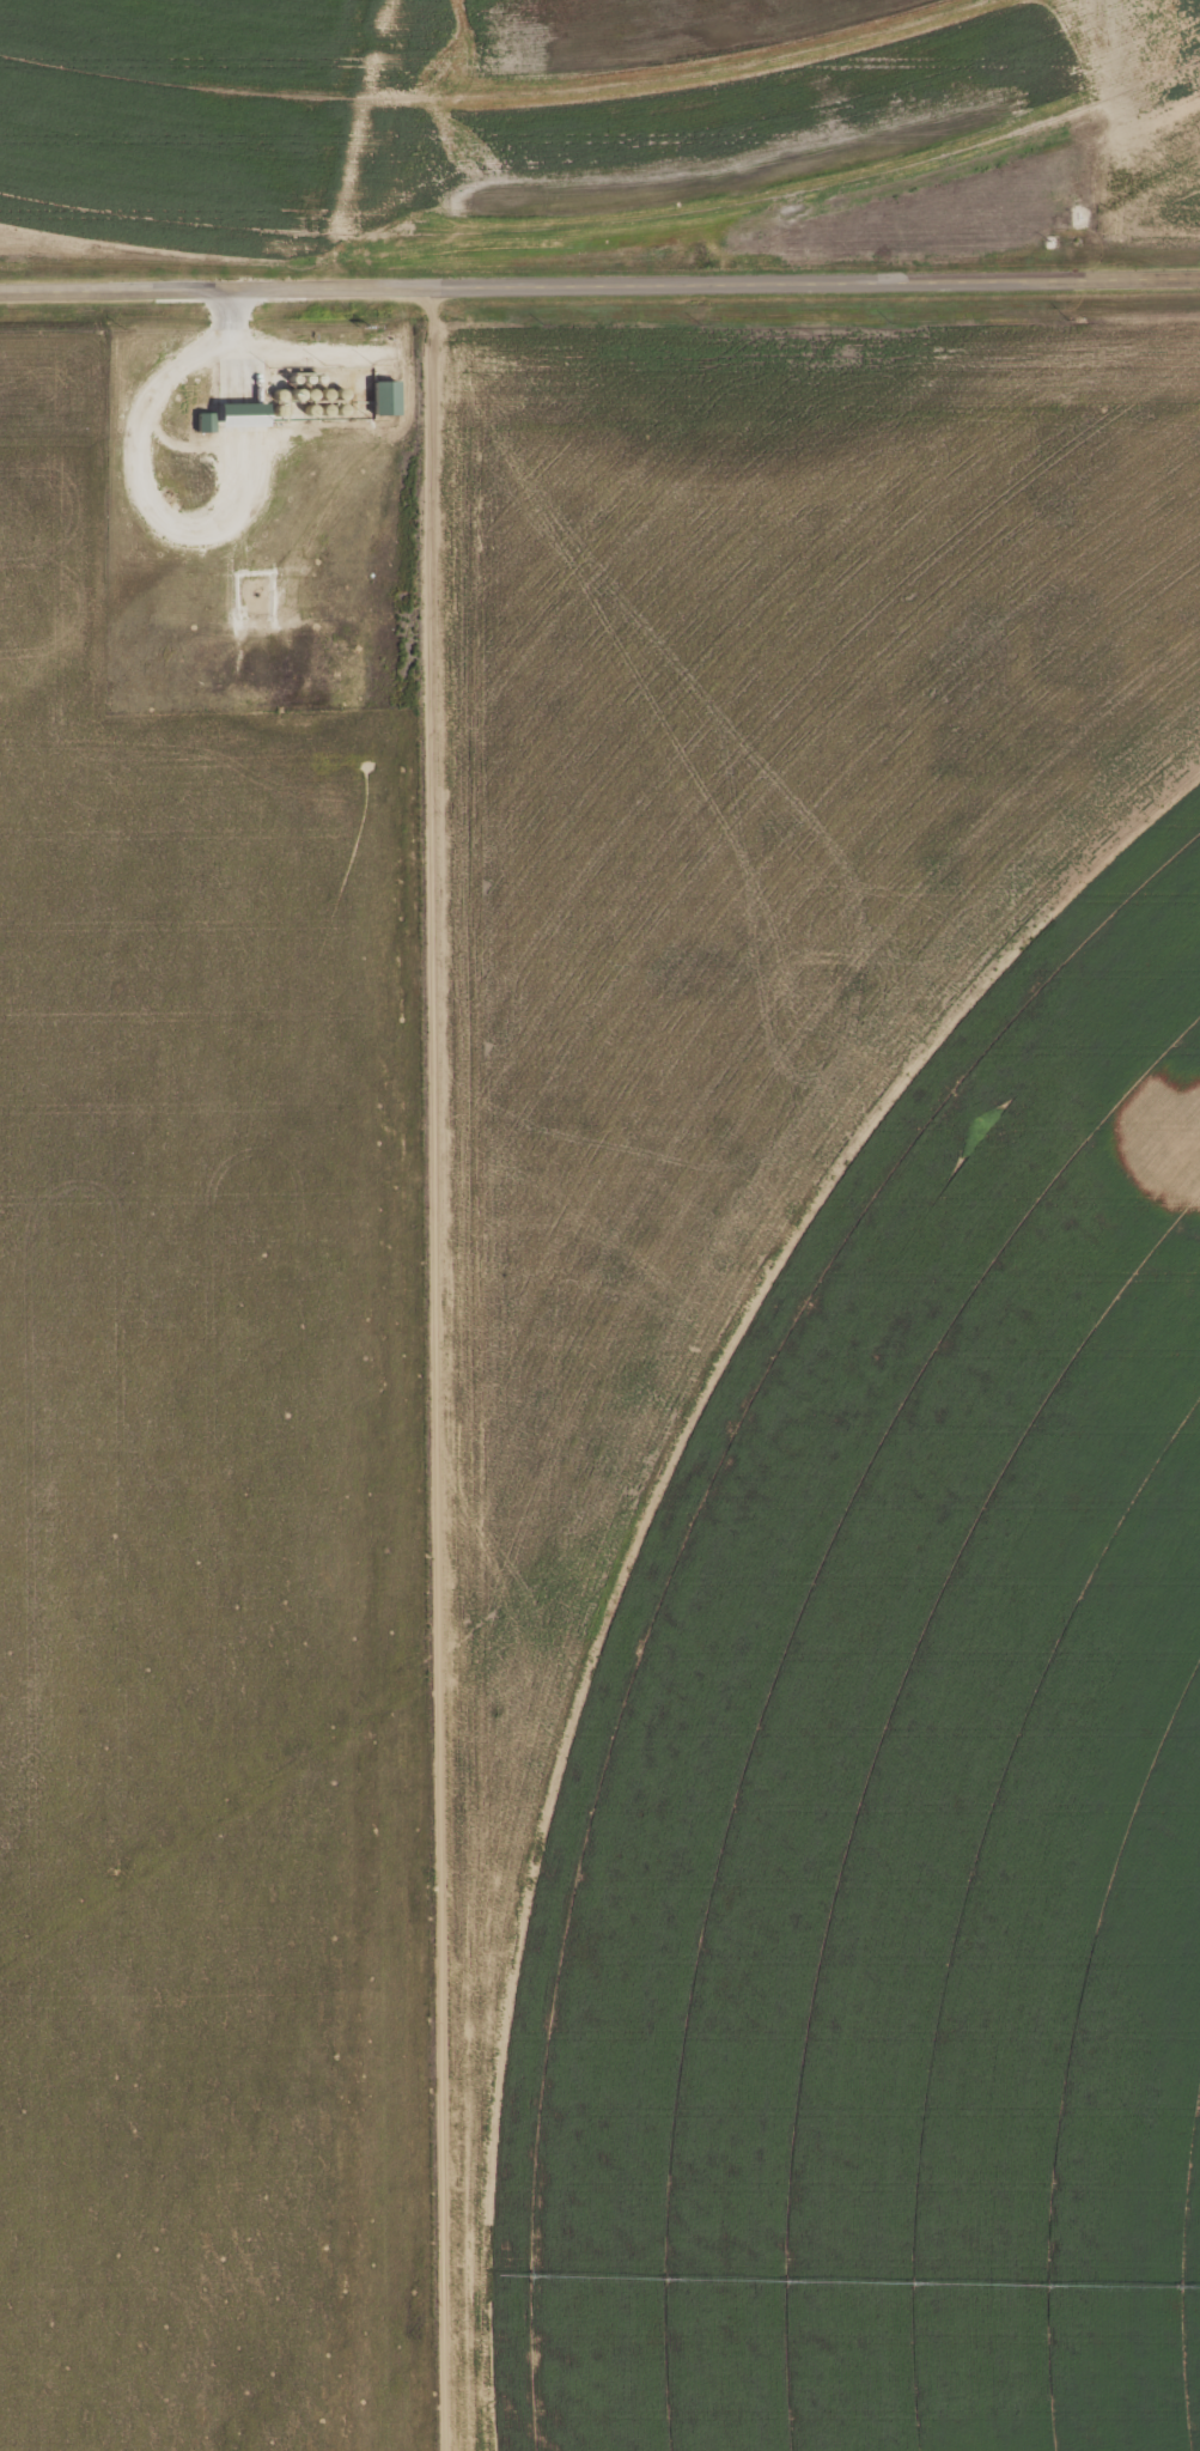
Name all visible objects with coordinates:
road: (367, 146)
road: (599, 290)

